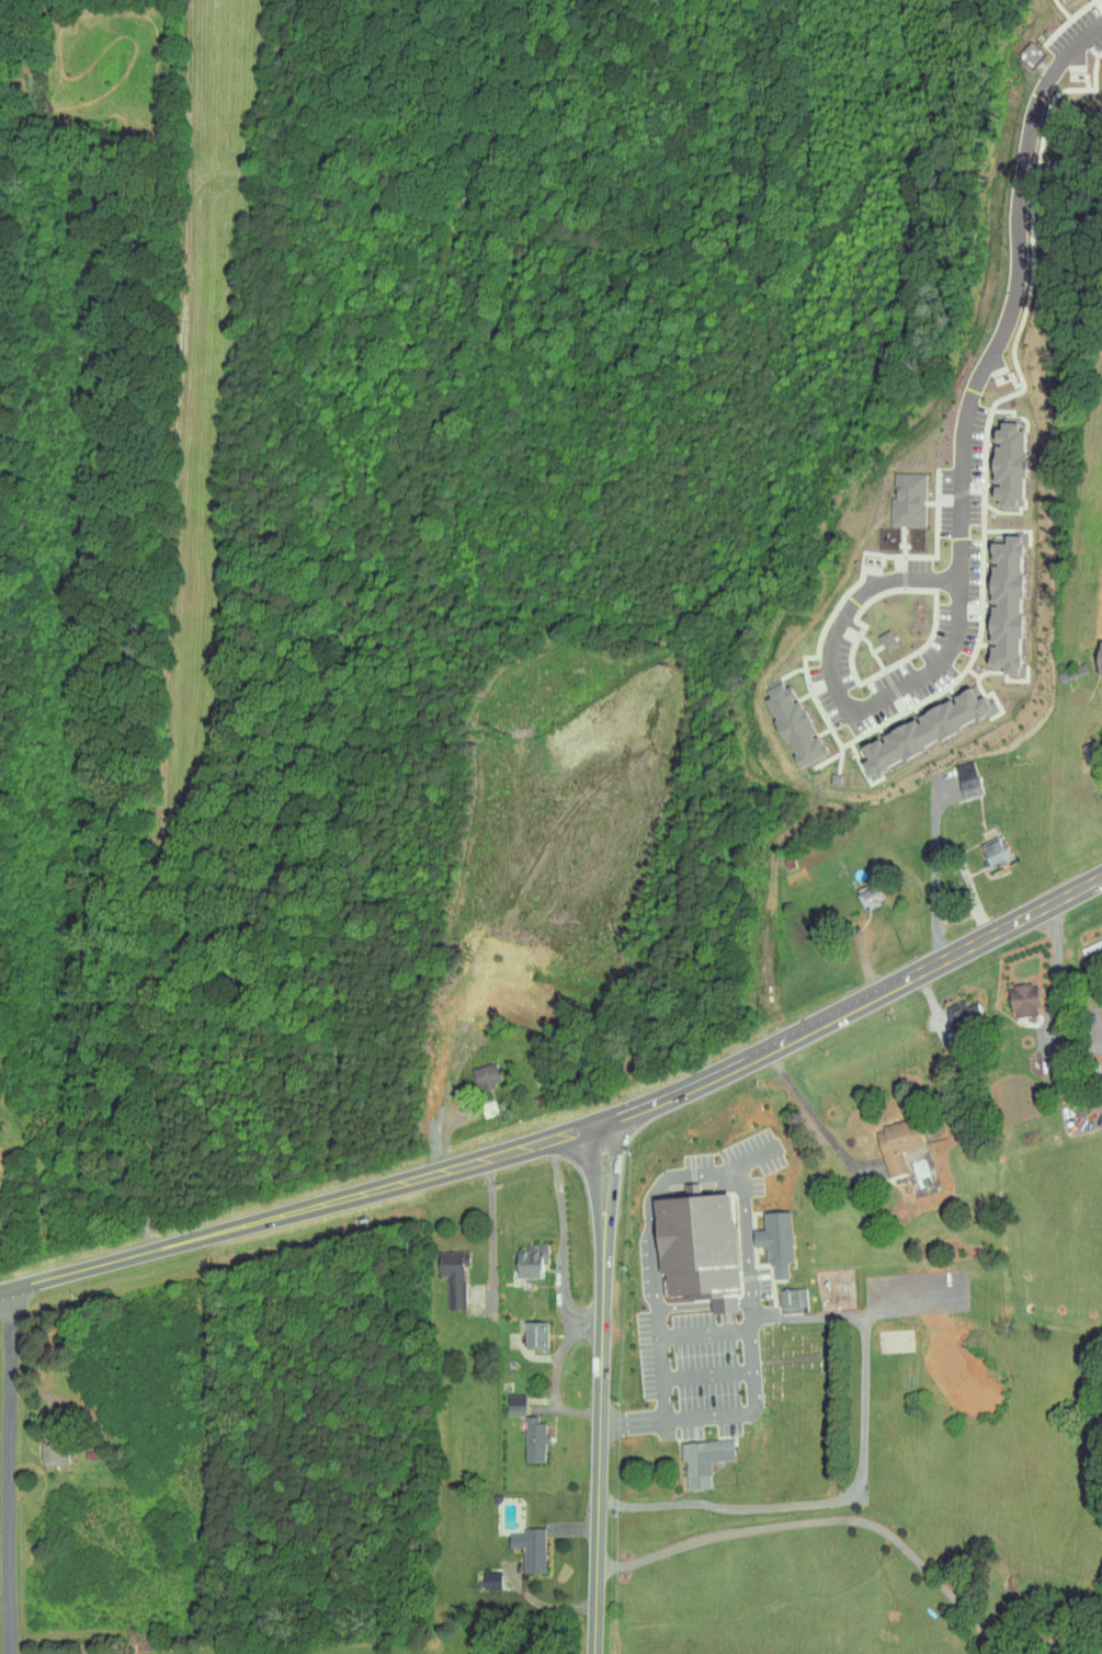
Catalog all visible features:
road: (1014, 286)
building: (1003, 458)
building: (901, 493)
building: (1002, 600)
building: (1095, 651)
road: (840, 685)
building: (789, 721)
building: (921, 726)
building: (966, 778)
building: (993, 853)
road: (931, 857)
building: (871, 898)
building: (853, 910)
road: (950, 920)
road: (863, 958)
building: (958, 1016)
building: (487, 1074)
building: (446, 1092)
road: (814, 1119)
road: (571, 1139)
building: (894, 1145)
road: (666, 1194)
road: (491, 1230)
building: (773, 1241)
building: (694, 1247)
building: (530, 1261)
building: (451, 1276)
road: (565, 1299)
building: (792, 1300)
road: (750, 1301)
road: (587, 1330)
building: (533, 1335)
road: (705, 1335)
road: (662, 1379)
road: (602, 1390)
building: (514, 1404)
road: (716, 1414)
building: (533, 1439)
building: (53, 1456)
building: (702, 1460)
road: (9, 1471)
road: (862, 1480)
road: (833, 1520)
building: (529, 1549)

